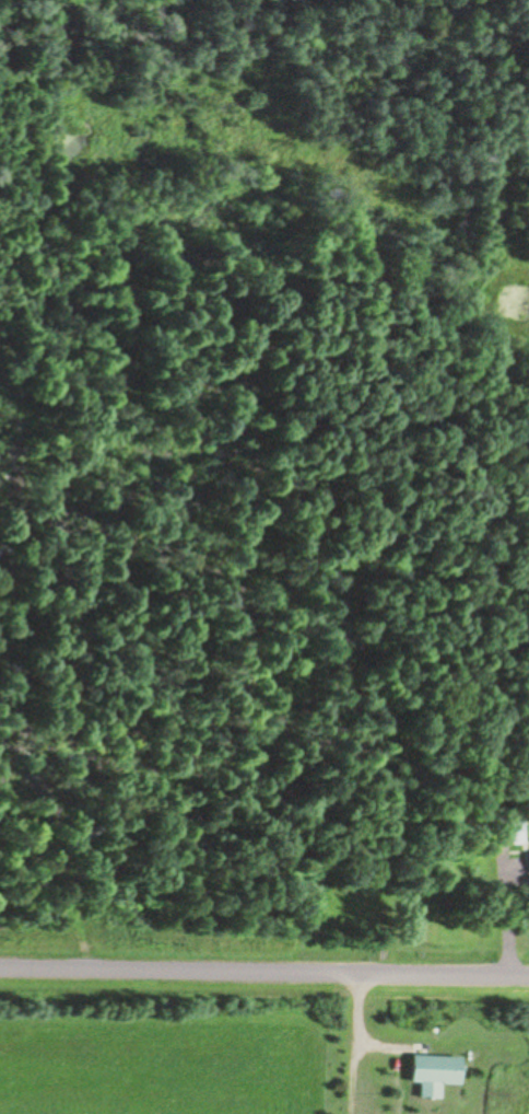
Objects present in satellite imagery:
building: (510, 826)
road: (263, 980)
road: (361, 1047)
building: (438, 1070)

